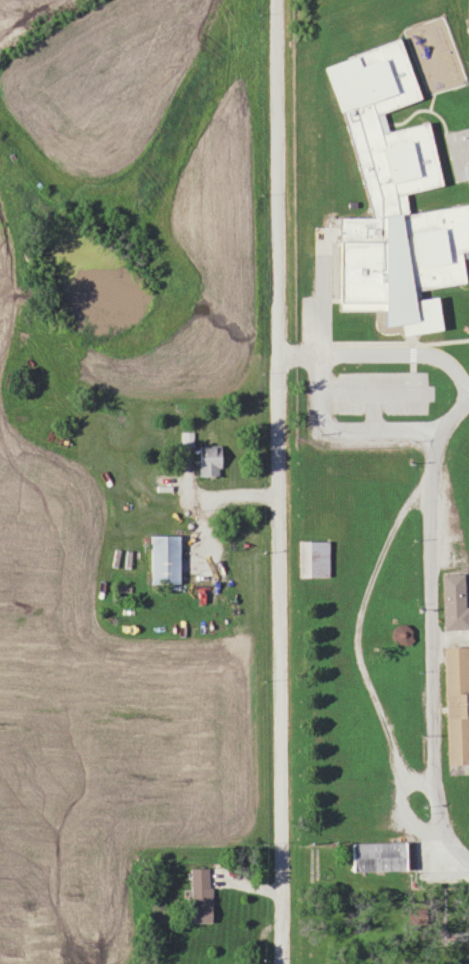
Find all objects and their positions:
park: (468, 15)
building: (394, 199)
building: (210, 460)
road: (277, 481)
road: (204, 504)
building: (314, 558)
building: (164, 559)
road: (369, 584)
building: (455, 601)
building: (402, 634)
road: (436, 651)
building: (456, 706)
road: (403, 798)
building: (377, 856)
road: (439, 864)
building: (201, 894)

